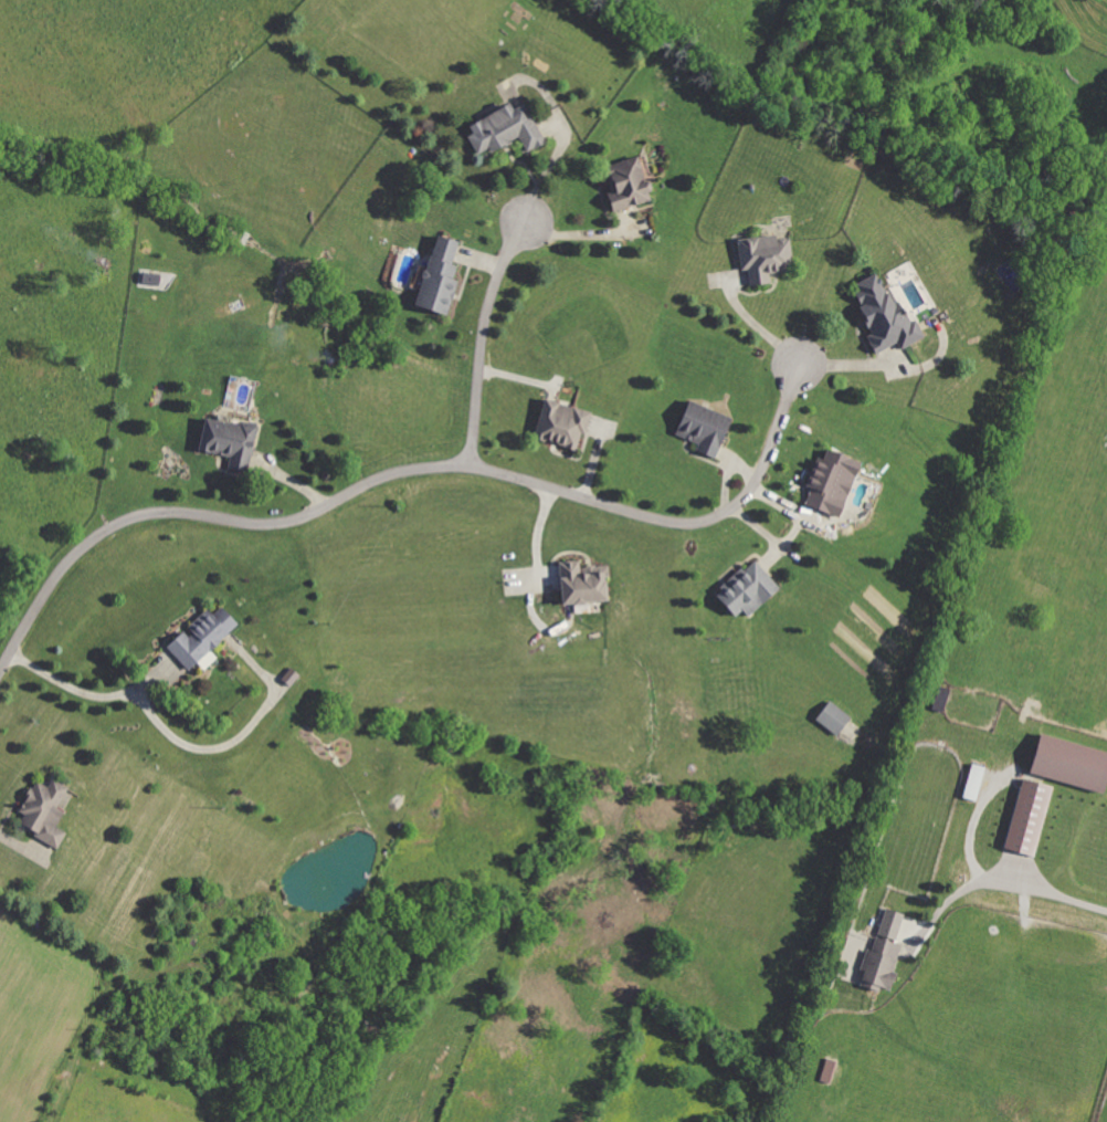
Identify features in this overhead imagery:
building: (499, 129)
building: (621, 183)
building: (759, 256)
building: (434, 279)
building: (878, 317)
road: (756, 327)
road: (483, 329)
building: (557, 426)
building: (698, 428)
building: (224, 442)
road: (420, 470)
building: (824, 482)
road: (536, 542)
building: (576, 584)
building: (742, 591)
building: (198, 640)
building: (830, 719)
road: (173, 737)
building: (1065, 764)
building: (970, 783)
building: (40, 811)
building: (1023, 818)
road: (970, 828)
road: (17, 846)
road: (998, 883)
building: (879, 955)

